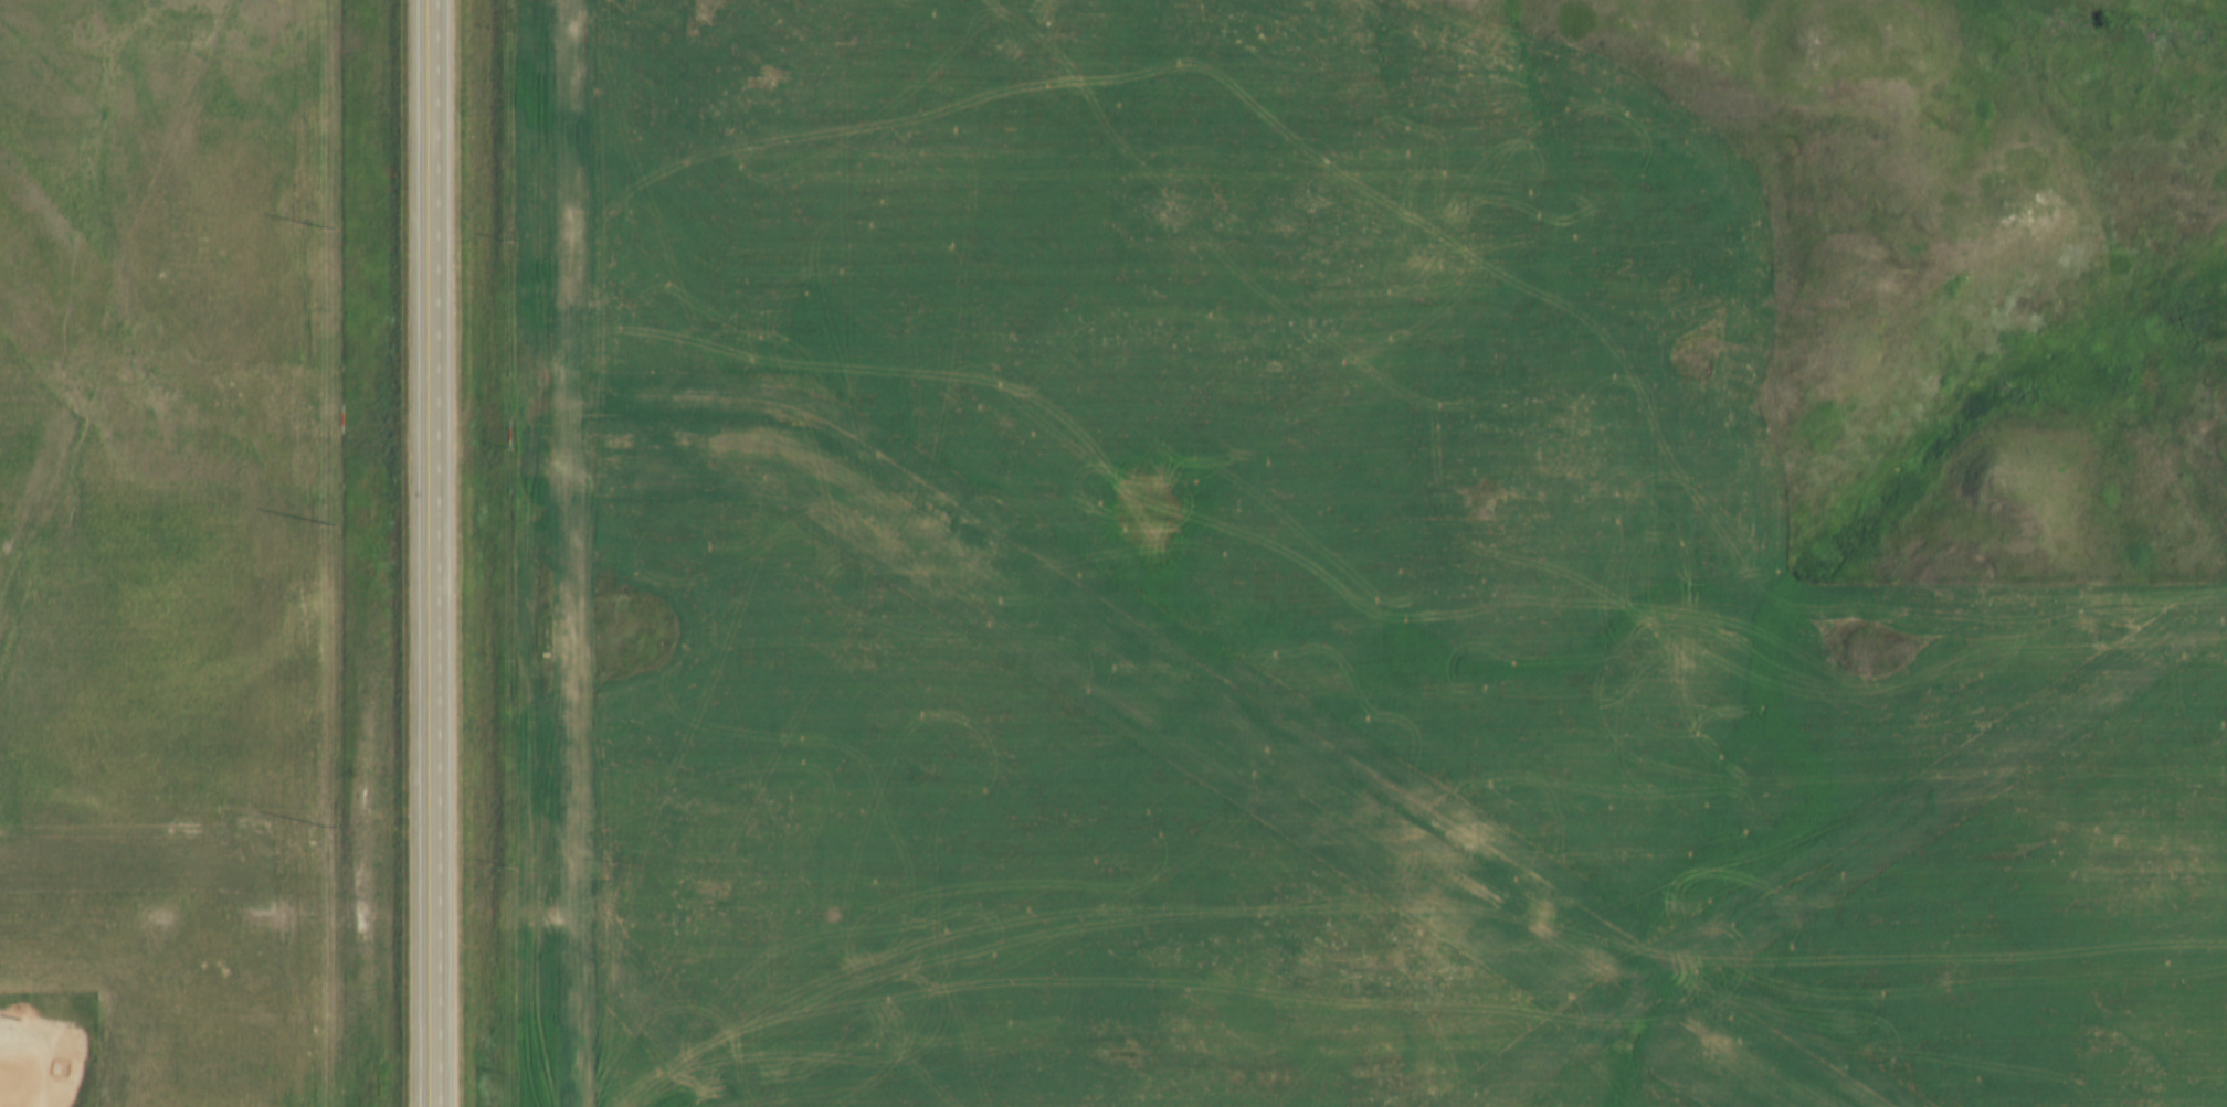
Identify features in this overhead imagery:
road: (2207, 486)
road: (431, 553)

